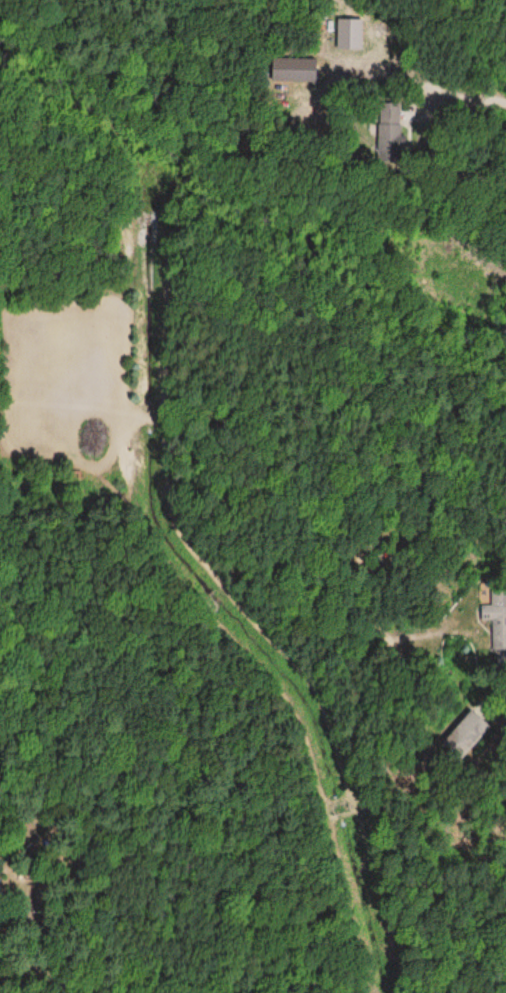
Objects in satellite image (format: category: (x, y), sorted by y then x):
building: (391, 128)

